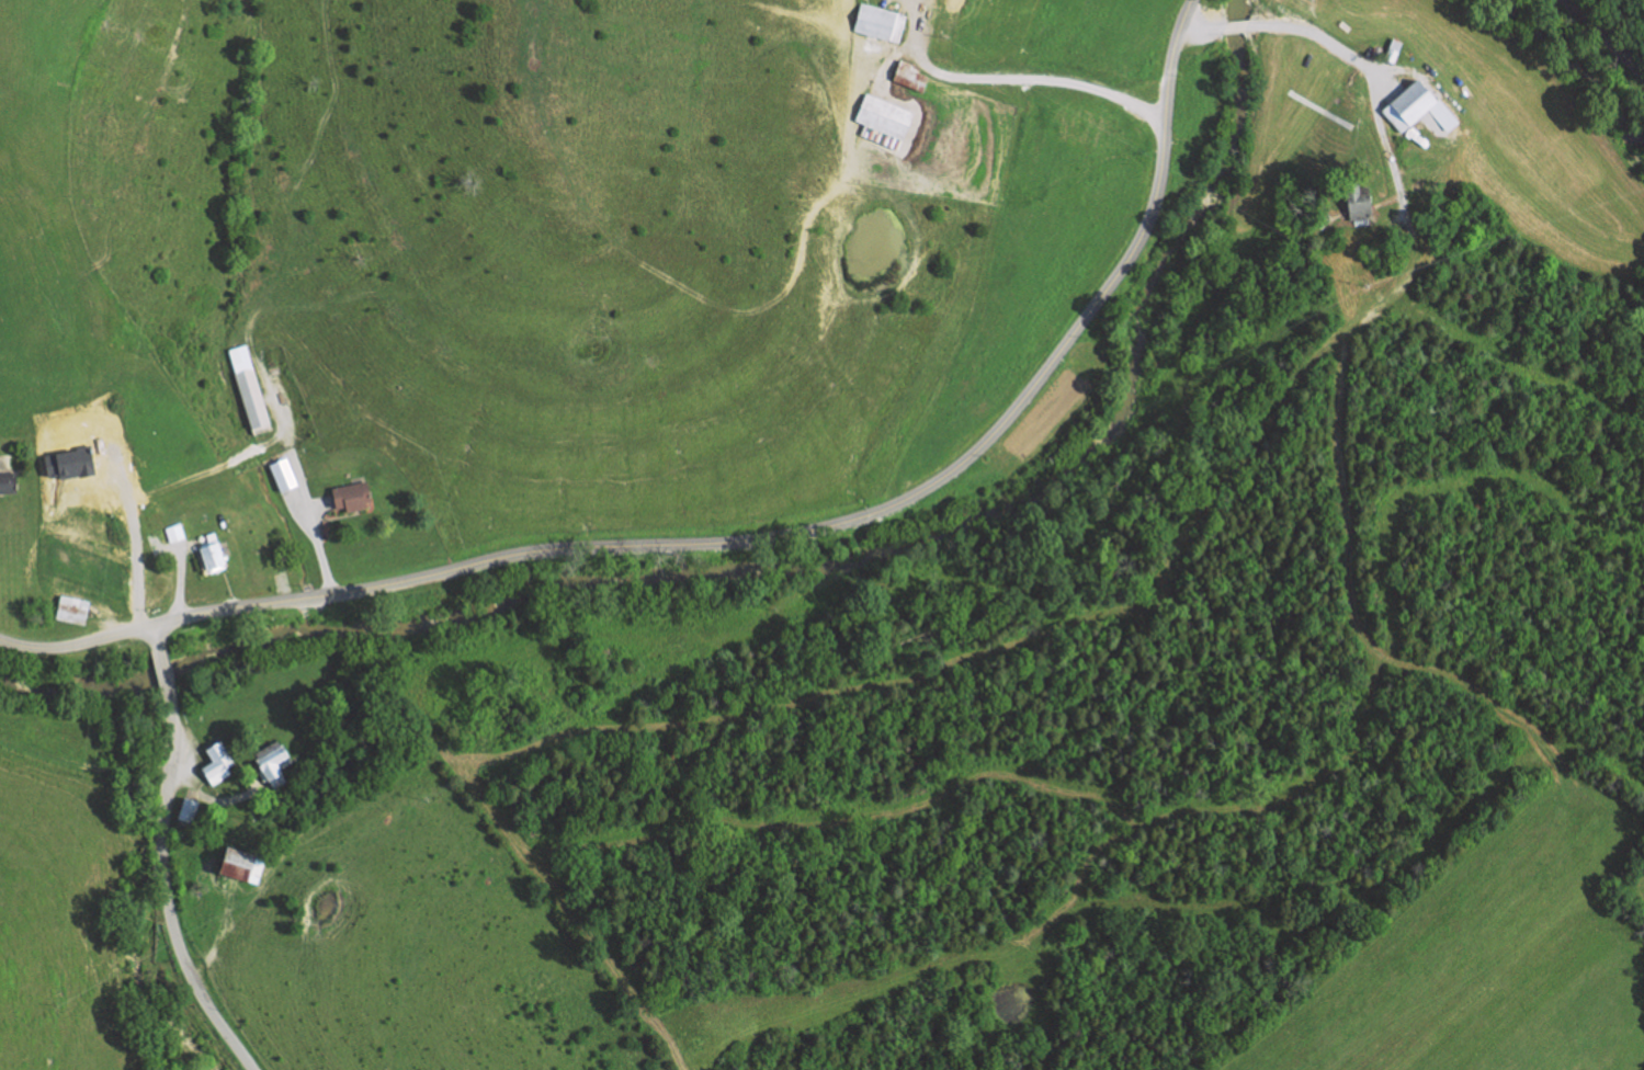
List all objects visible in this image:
building: (878, 22)
road: (1236, 25)
road: (1203, 26)
road: (1607, 36)
building: (1394, 52)
building: (908, 75)
road: (1011, 78)
road: (1373, 86)
building: (1413, 107)
building: (882, 121)
building: (1358, 203)
road: (712, 304)
building: (254, 402)
building: (283, 474)
road: (297, 474)
building: (8, 481)
building: (350, 496)
road: (320, 505)
building: (204, 520)
road: (826, 525)
road: (1346, 534)
road: (168, 542)
building: (212, 556)
road: (180, 573)
building: (71, 608)
road: (154, 634)
road: (76, 642)
road: (161, 665)
building: (272, 759)
building: (217, 762)
road: (212, 800)
building: (186, 810)
building: (274, 840)
building: (237, 864)
road: (165, 889)

